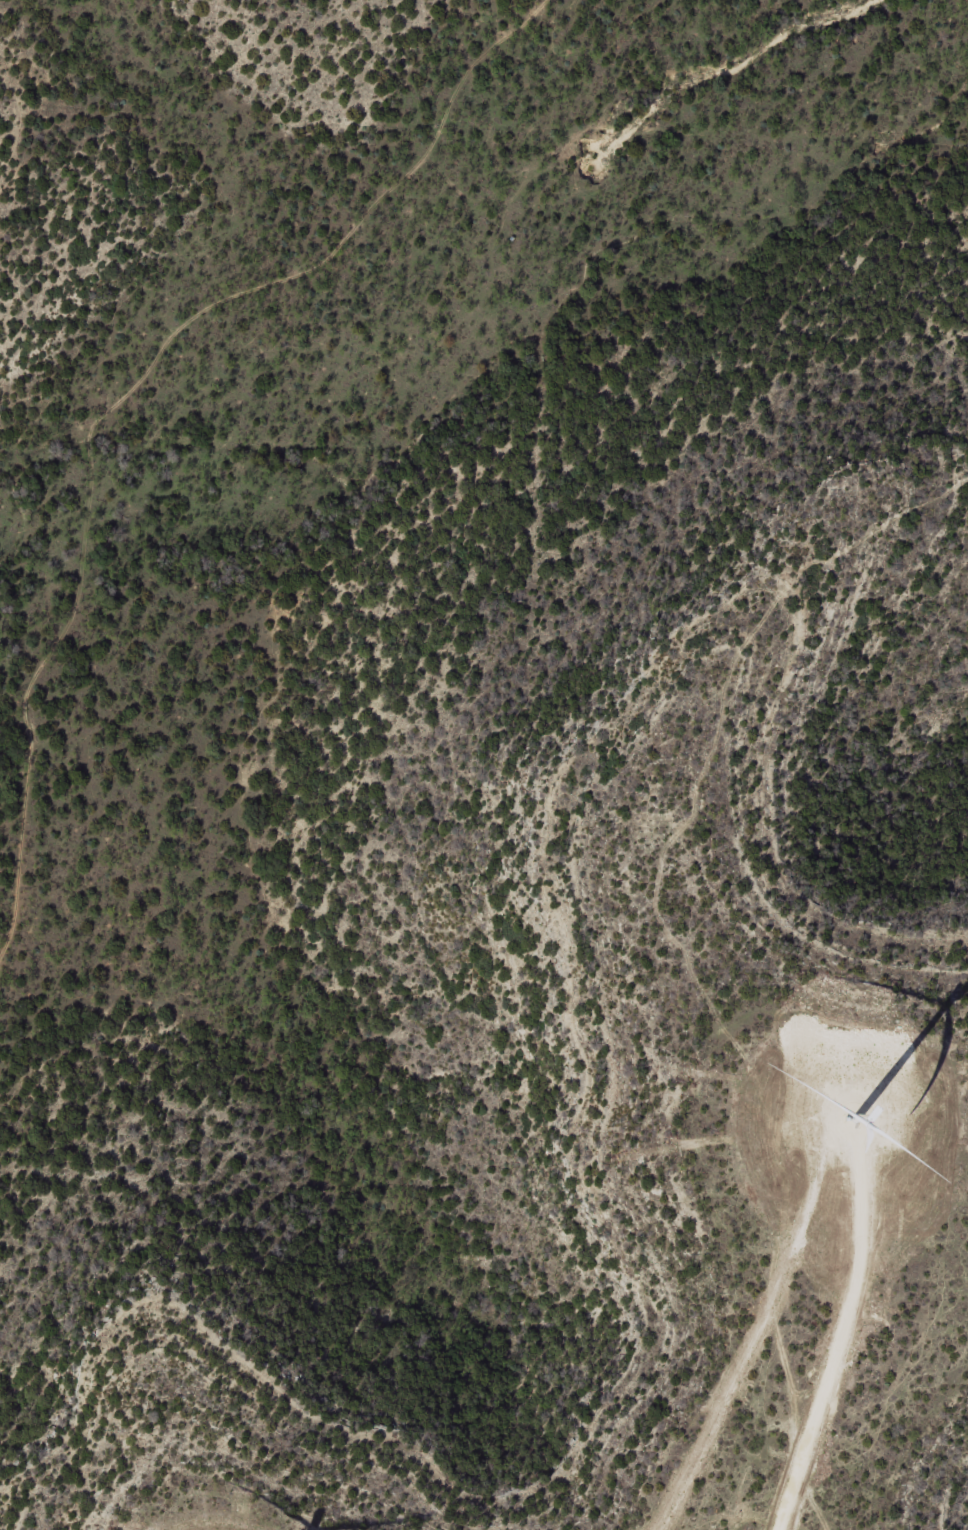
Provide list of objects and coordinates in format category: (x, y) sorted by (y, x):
road: (105, 424)
wind turbine: (860, 1102)

